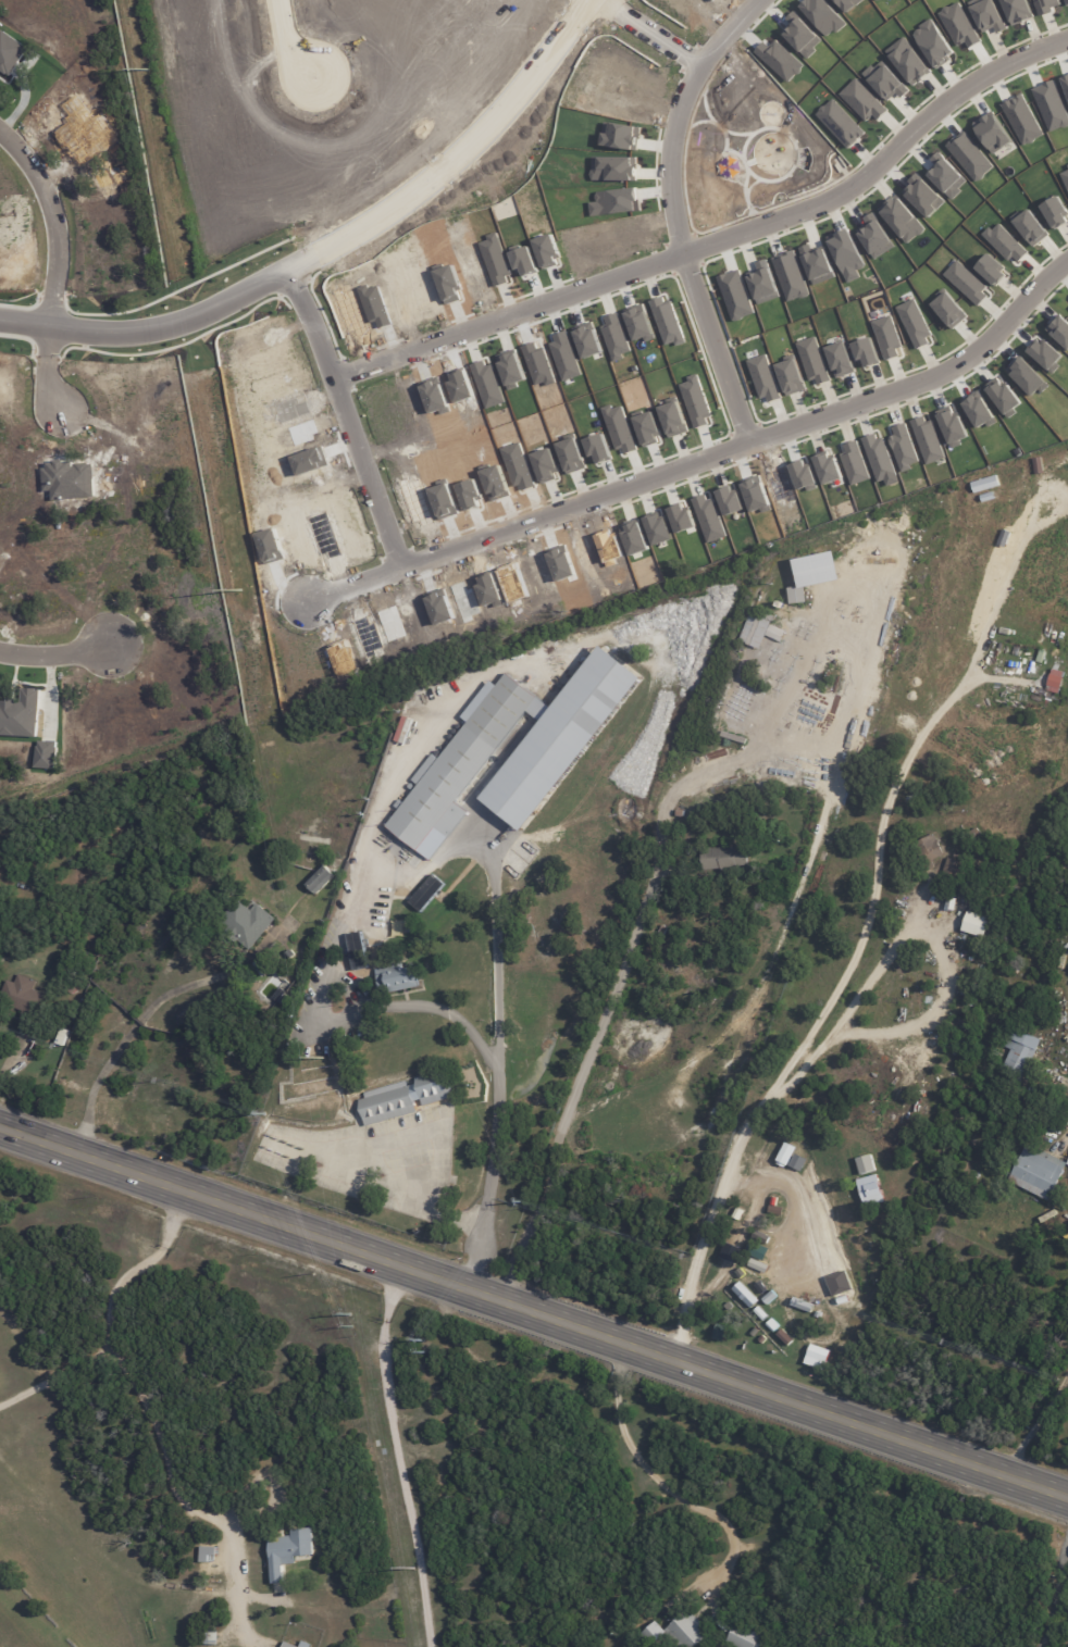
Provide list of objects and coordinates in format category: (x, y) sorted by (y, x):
road: (656, 30)
road: (293, 33)
power tower: (148, 67)
road: (674, 209)
road: (48, 213)
road: (332, 239)
road: (722, 240)
road: (40, 371)
road: (352, 409)
road: (700, 454)
building: (814, 574)
power tower: (239, 590)
building: (759, 632)
road: (49, 657)
building: (1055, 681)
building: (561, 737)
building: (929, 848)
building: (724, 857)
building: (952, 869)
building: (321, 879)
building: (426, 893)
road: (496, 907)
building: (247, 922)
building: (974, 924)
building: (357, 950)
building: (397, 978)
building: (21, 995)
road: (612, 1000)
road: (455, 1018)
road: (818, 1019)
road: (123, 1040)
building: (1019, 1052)
power tower: (323, 1058)
building: (407, 1097)
road: (363, 1150)
building: (1067, 1163)
building: (1036, 1171)
road: (534, 1312)
road: (58, 1375)
road: (138, 1396)
road: (1035, 1425)
road: (397, 1455)
road: (661, 1484)
building: (287, 1552)
building: (208, 1554)
power tower: (412, 1568)
road: (1054, 1599)
building: (685, 1630)
building: (653, 1633)
building: (744, 1637)
building: (305, 1644)
building: (288, 1645)

